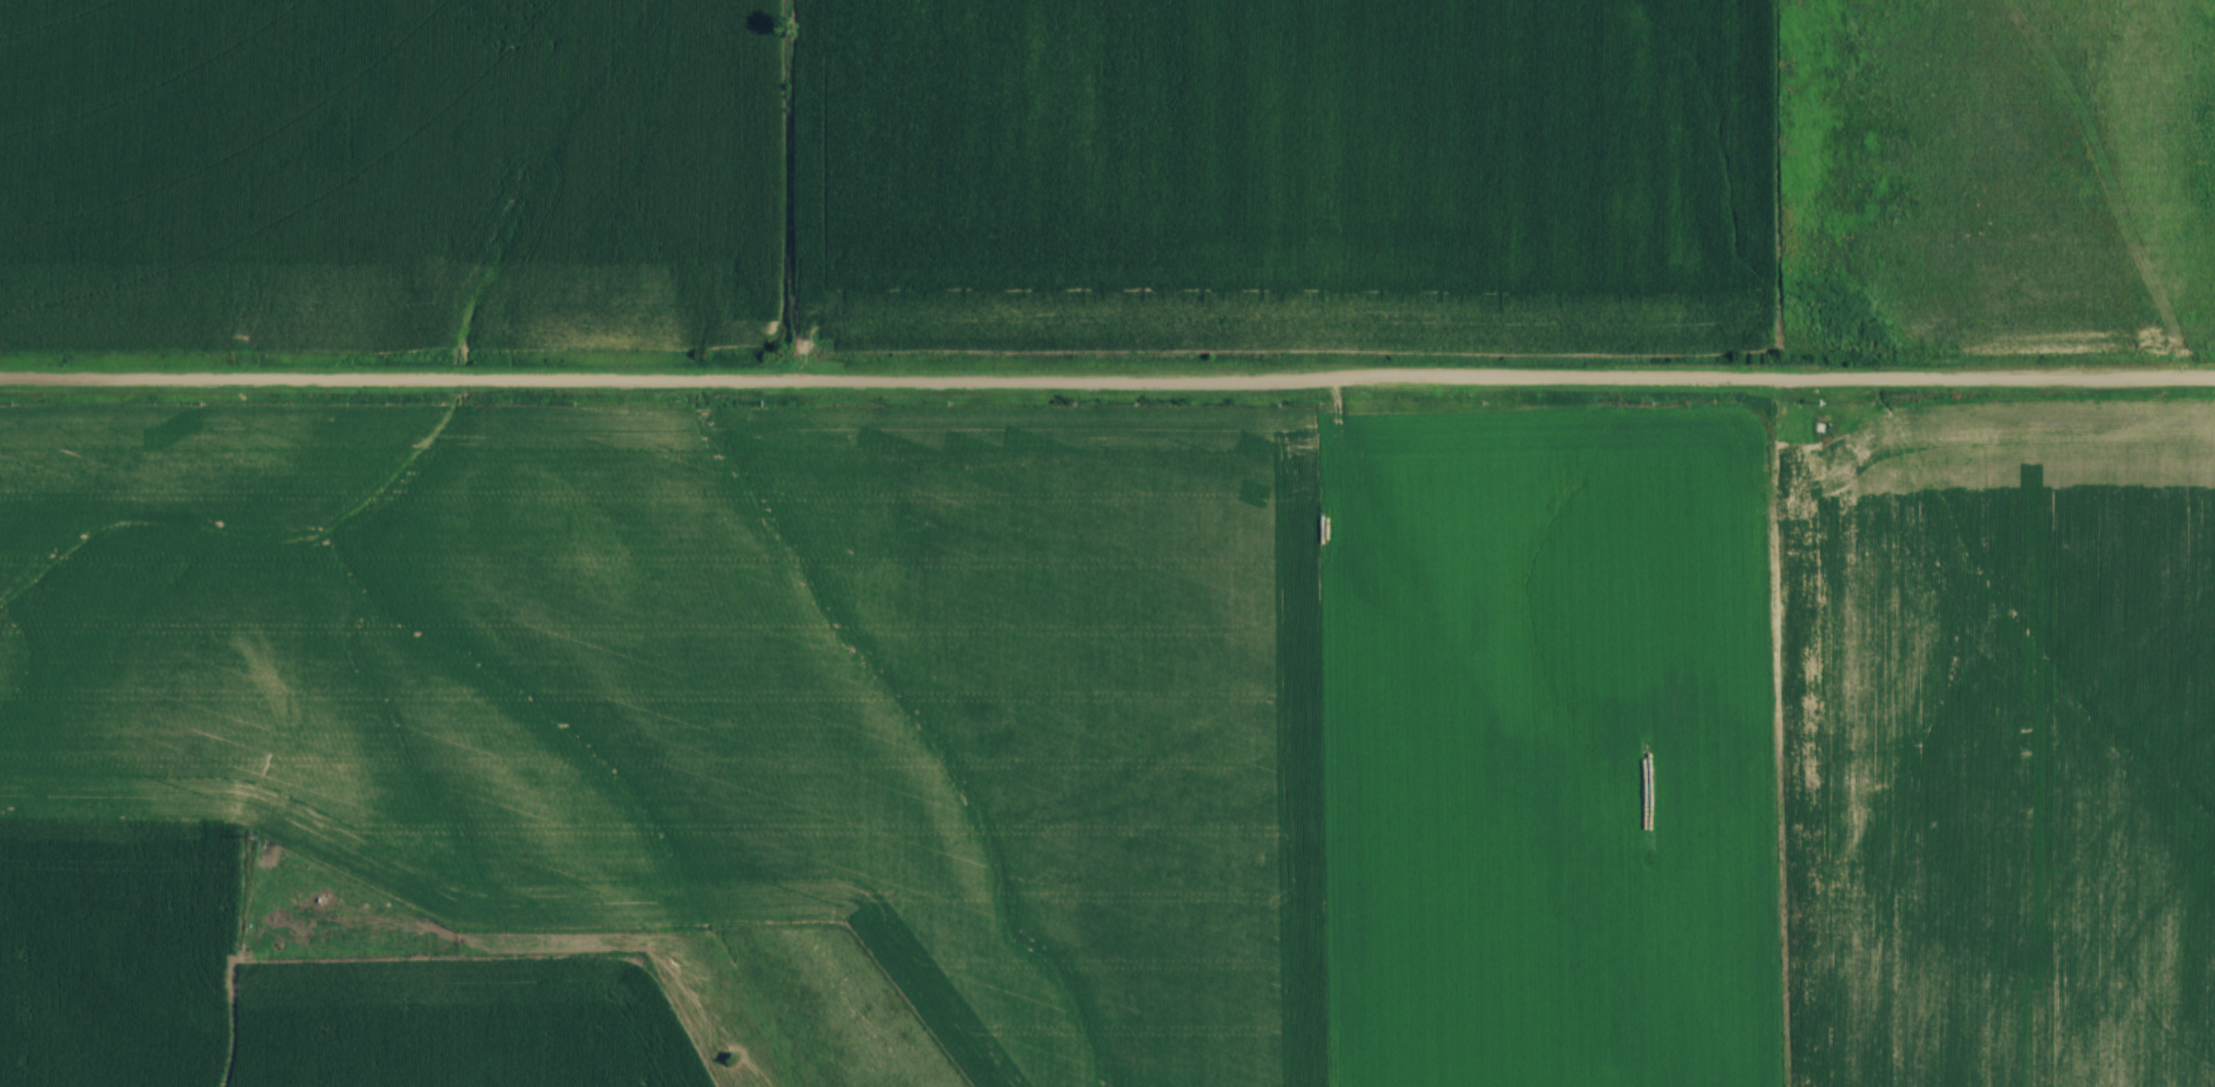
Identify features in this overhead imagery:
road: (1106, 387)

